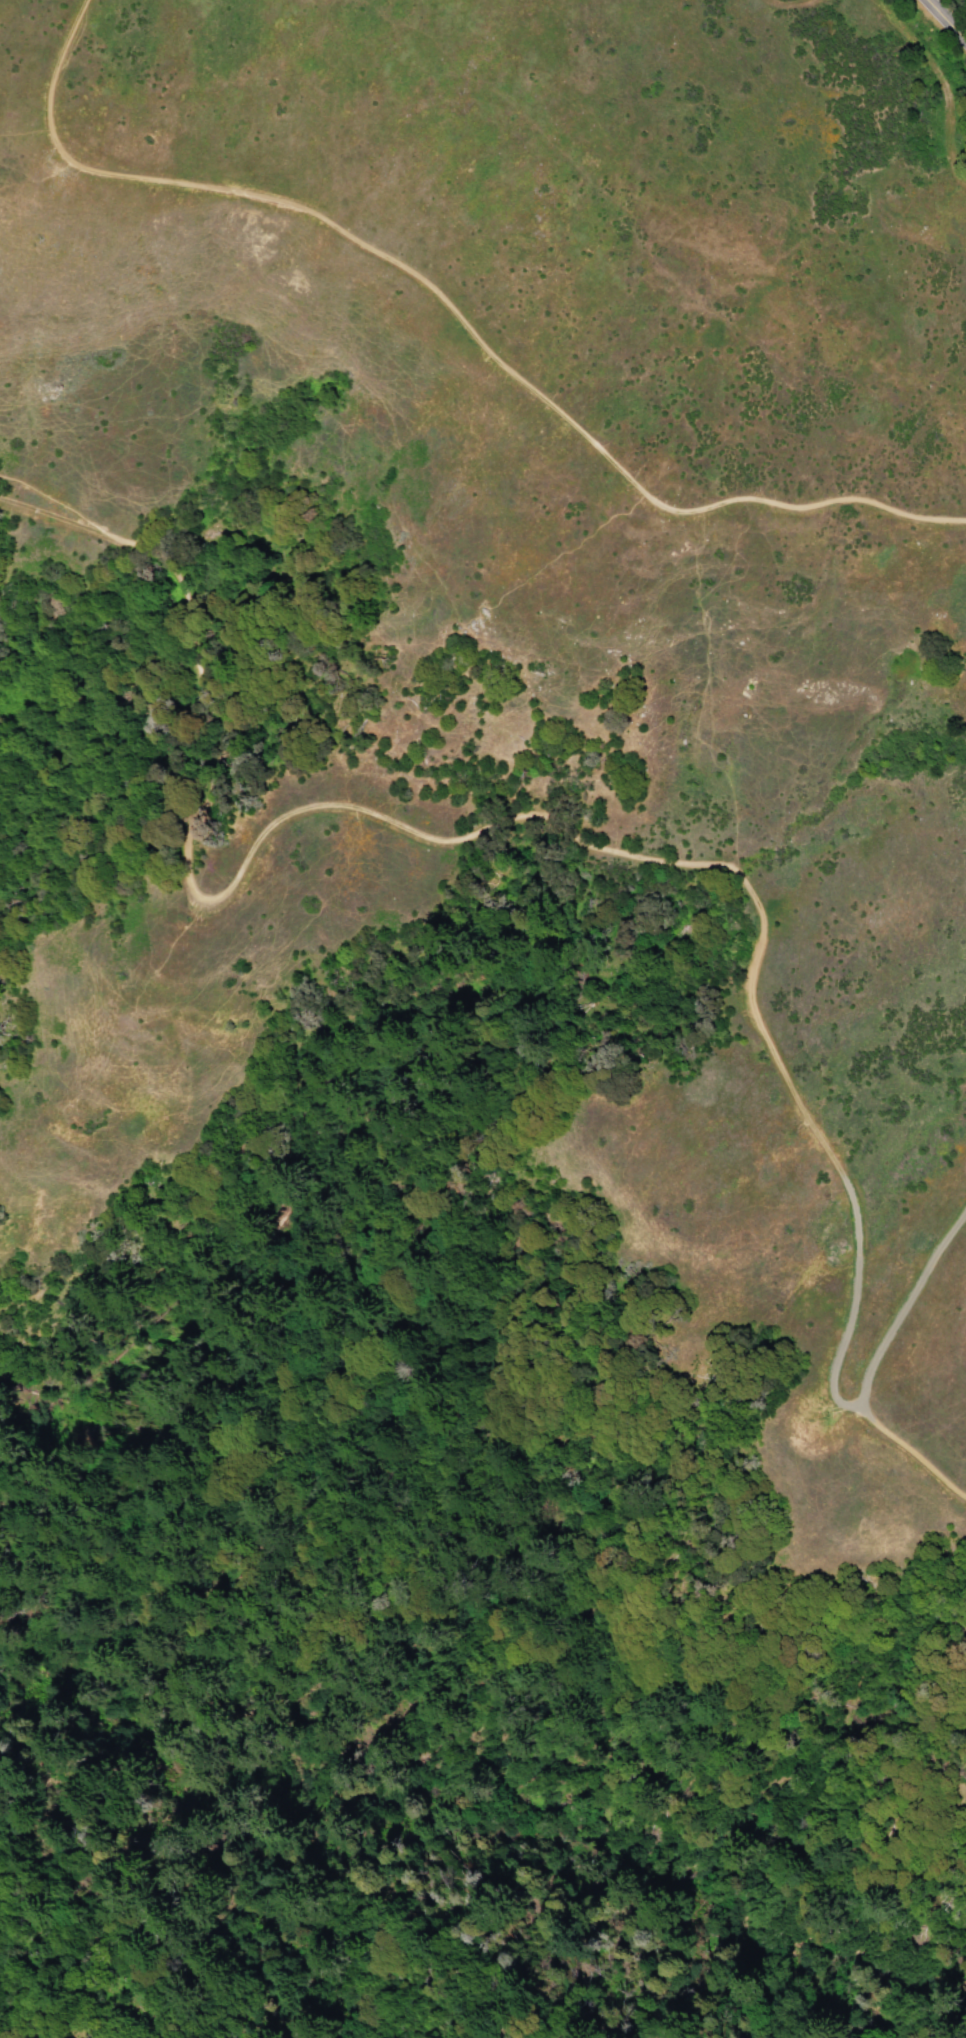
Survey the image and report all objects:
road: (945, 21)
road: (453, 310)
road: (61, 503)
road: (41, 513)
road: (519, 808)
road: (872, 1366)

